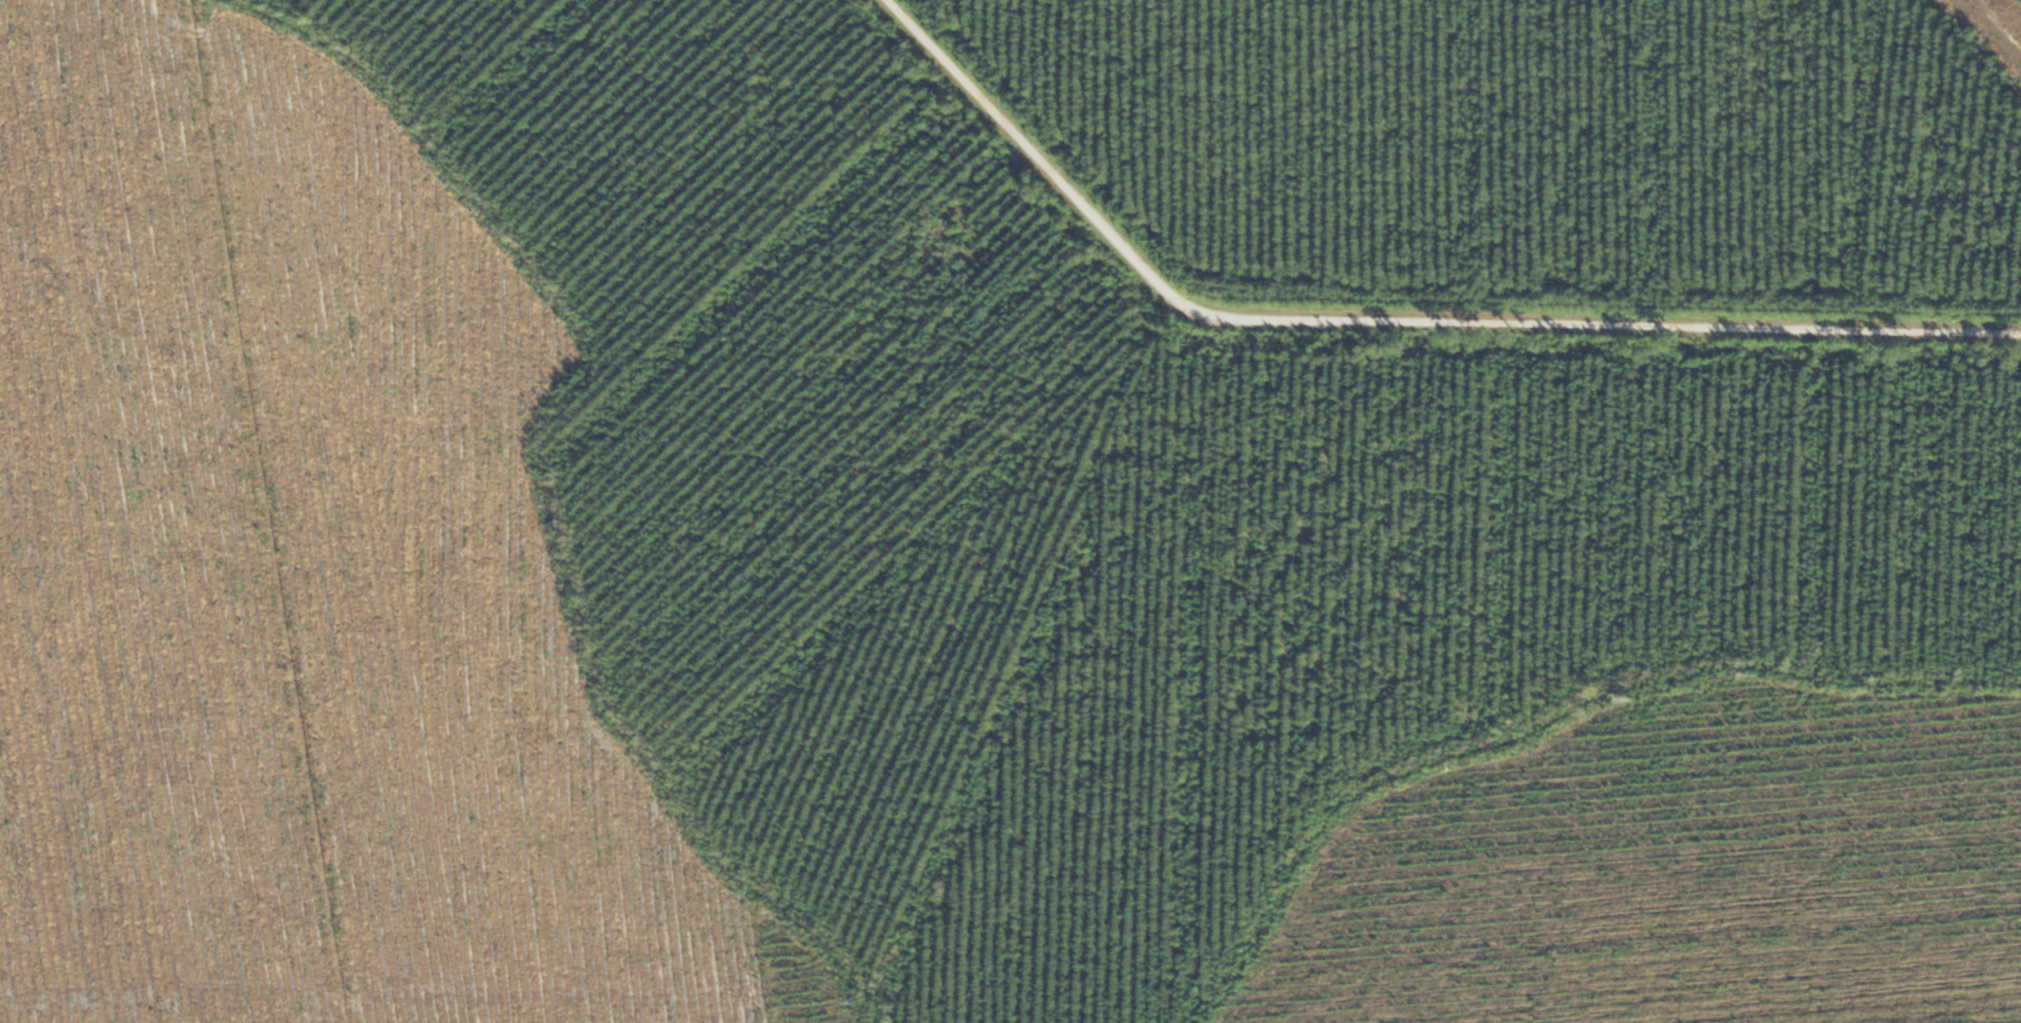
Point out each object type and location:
road: (1475, 254)

